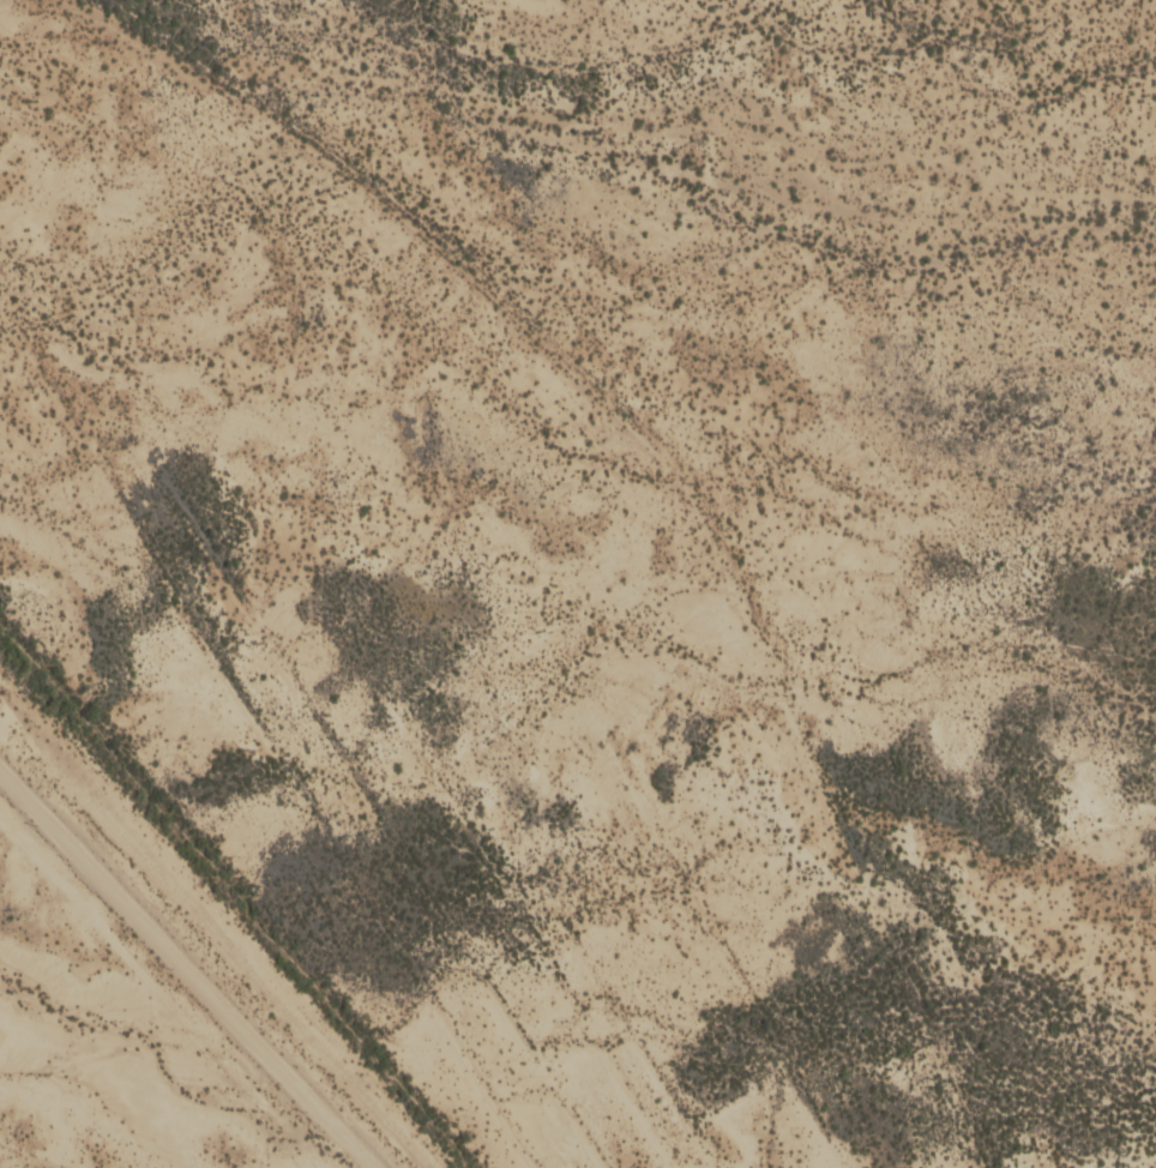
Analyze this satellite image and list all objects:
road: (182, 973)

